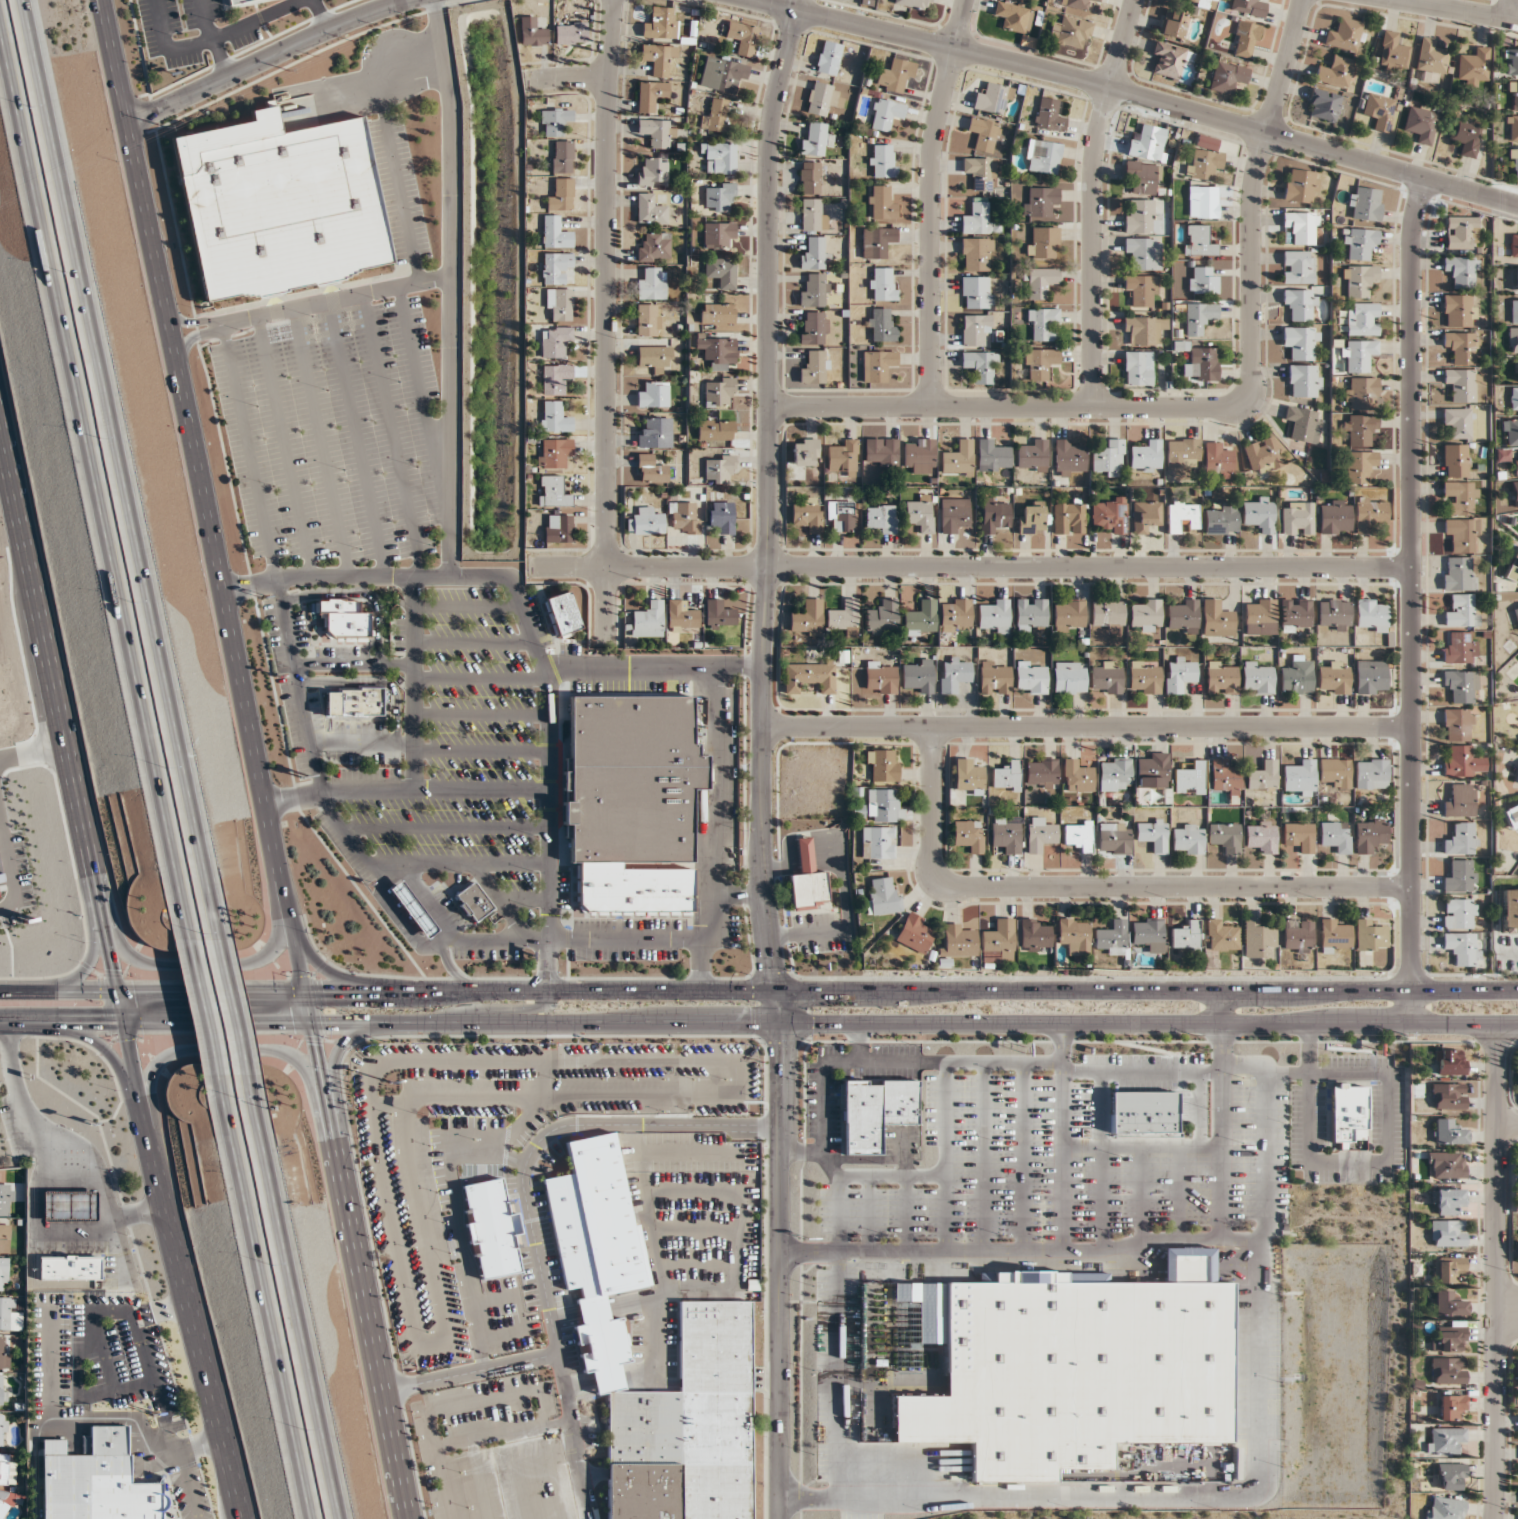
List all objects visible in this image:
building: (1195, 0)
building: (233, 1)
building: (1075, 4)
road: (774, 5)
road: (797, 5)
building: (913, 5)
building: (1249, 7)
road: (1456, 9)
road: (1512, 9)
road: (321, 14)
building: (1014, 16)
building: (661, 24)
building: (1175, 24)
building: (532, 32)
building: (571, 33)
building: (1071, 33)
building: (1346, 35)
building: (742, 37)
road: (211, 38)
road: (209, 39)
building: (1245, 39)
building: (1393, 51)
road: (264, 57)
building: (829, 57)
building: (658, 58)
building: (1169, 60)
building: (1431, 61)
building: (1512, 61)
road: (115, 62)
building: (1474, 66)
building: (1335, 71)
building: (722, 74)
building: (895, 75)
building: (1228, 77)
road: (562, 80)
road: (376, 88)
building: (1513, 95)
building: (652, 96)
building: (822, 98)
building: (993, 98)
road: (1159, 102)
building: (1324, 104)
building: (1380, 110)
building: (886, 114)
building: (1049, 115)
building: (719, 117)
building: (555, 121)
building: (1422, 123)
building: (1512, 128)
building: (657, 132)
building: (983, 133)
building: (1466, 136)
building: (815, 139)
building: (1148, 143)
building: (1043, 156)
building: (562, 157)
building: (720, 157)
building: (881, 160)
building: (1204, 163)
building: (1514, 163)
building: (653, 172)
building: (981, 173)
building: (1144, 176)
building: (809, 178)
road: (398, 184)
building: (1301, 186)
building: (561, 195)
building: (719, 196)
road: (930, 201)
building: (1040, 201)
road: (1092, 201)
building: (1202, 201)
building: (281, 202)
building: (1365, 203)
building: (881, 204)
building: (650, 209)
building: (811, 214)
building: (1140, 216)
building: (979, 219)
building: (1303, 227)
building: (556, 232)
building: (1463, 232)
building: (719, 234)
building: (877, 241)
building: (1197, 241)
building: (1043, 242)
building: (1360, 242)
building: (654, 247)
building: (1514, 247)
building: (1143, 252)
building: (814, 254)
building: (977, 254)
building: (556, 267)
building: (1298, 267)
building: (1463, 270)
building: (721, 272)
building: (1516, 279)
building: (1359, 280)
building: (1201, 281)
building: (1041, 282)
building: (652, 284)
building: (882, 284)
building: (1141, 289)
building: (814, 291)
building: (975, 292)
road: (333, 299)
building: (560, 303)
building: (1301, 303)
building: (1514, 309)
building: (1459, 310)
building: (717, 314)
road: (599, 315)
building: (1200, 317)
building: (648, 319)
building: (1362, 319)
road: (193, 323)
building: (1043, 324)
building: (881, 325)
building: (814, 328)
building: (976, 330)
building: (1143, 330)
road: (195, 335)
building: (1513, 339)
building: (555, 340)
building: (1301, 341)
building: (1461, 346)
building: (717, 351)
building: (1357, 355)
building: (654, 357)
building: (1039, 363)
building: (1203, 364)
building: (877, 365)
building: (980, 366)
building: (813, 367)
building: (1138, 367)
building: (556, 378)
building: (1305, 380)
building: (1461, 384)
building: (718, 390)
building: (1361, 392)
building: (654, 394)
road: (420, 395)
building: (1514, 399)
road: (1212, 407)
building: (555, 417)
building: (1459, 422)
building: (1304, 424)
building: (715, 429)
building: (1360, 429)
building: (1510, 431)
road: (392, 434)
building: (655, 434)
road: (356, 439)
road: (320, 443)
road: (283, 447)
building: (554, 452)
building: (806, 452)
building: (881, 452)
building: (1183, 452)
building: (919, 454)
building: (1263, 454)
building: (1033, 455)
building: (993, 456)
building: (1146, 456)
building: (843, 457)
building: (958, 458)
building: (1069, 458)
building: (1108, 458)
road: (127, 459)
building: (1219, 460)
building: (1455, 460)
building: (1360, 466)
building: (1516, 466)
building: (719, 468)
building: (651, 469)
road: (448, 471)
building: (552, 492)
building: (1515, 493)
road: (88, 494)
building: (1460, 498)
road: (768, 500)
building: (1370, 512)
building: (807, 513)
building: (921, 514)
building: (954, 514)
building: (1110, 514)
building: (1259, 514)
building: (994, 515)
building: (1183, 515)
building: (684, 516)
building: (722, 516)
building: (841, 516)
building: (1146, 516)
building: (1335, 516)
building: (1070, 517)
building: (881, 518)
building: (1031, 518)
building: (1297, 518)
building: (1221, 519)
road: (211, 520)
building: (645, 522)
building: (558, 528)
building: (1463, 534)
road: (969, 567)
building: (1513, 569)
building: (1459, 573)
road: (337, 577)
road: (360, 593)
road: (1411, 600)
road: (467, 607)
building: (1462, 611)
building: (1516, 611)
building: (1069, 613)
building: (562, 614)
building: (955, 614)
building: (1031, 614)
building: (1107, 614)
building: (1295, 614)
building: (1334, 614)
building: (719, 615)
building: (1145, 615)
building: (1183, 615)
building: (1371, 615)
building: (681, 616)
building: (807, 616)
building: (882, 616)
building: (994, 616)
building: (1260, 617)
building: (920, 618)
building: (1217, 618)
building: (343, 620)
building: (648, 620)
road: (473, 640)
building: (1459, 647)
road: (353, 665)
road: (50, 673)
building: (1180, 674)
building: (810, 675)
building: (918, 675)
building: (955, 675)
building: (1297, 675)
building: (881, 677)
building: (995, 677)
building: (1031, 677)
building: (1106, 677)
building: (1144, 677)
building: (1222, 677)
building: (1258, 677)
building: (1333, 677)
building: (1371, 677)
building: (1070, 678)
road: (481, 679)
road: (373, 681)
road: (414, 683)
building: (1461, 685)
road: (297, 689)
building: (355, 702)
road: (481, 713)
building: (1458, 724)
road: (1085, 727)
road: (361, 742)
road: (481, 749)
road: (32, 750)
building: (1464, 762)
building: (883, 764)
building: (1152, 770)
building: (1335, 771)
building: (1041, 773)
building: (1371, 773)
building: (1115, 774)
building: (968, 776)
building: (1007, 776)
building: (1077, 776)
building: (1263, 776)
building: (1225, 777)
building: (1517, 778)
building: (1190, 779)
road: (405, 791)
building: (1459, 801)
building: (631, 802)
building: (883, 806)
building: (1512, 818)
road: (548, 828)
road: (718, 829)
building: (1040, 833)
building: (1153, 833)
building: (1007, 834)
building: (969, 835)
building: (1079, 835)
building: (1370, 835)
building: (1262, 836)
building: (1299, 836)
building: (1336, 836)
building: (1226, 837)
building: (1114, 838)
building: (1188, 839)
building: (1460, 839)
building: (877, 842)
road: (835, 857)
road: (9, 865)
building: (1460, 876)
building: (808, 879)
road: (1096, 886)
road: (741, 894)
building: (883, 895)
road: (523, 898)
road: (501, 901)
road: (428, 902)
building: (473, 902)
road: (390, 905)
building: (413, 909)
building: (1510, 910)
building: (1459, 913)
building: (913, 933)
building: (1148, 934)
road: (807, 935)
building: (1034, 935)
building: (1074, 935)
building: (1186, 935)
building: (1221, 935)
building: (1298, 935)
building: (1335, 935)
building: (1370, 936)
building: (1112, 938)
building: (1257, 939)
road: (559, 940)
building: (998, 940)
building: (958, 941)
building: (1463, 948)
road: (86, 964)
road: (200, 964)
road: (449, 967)
traffic signals: (774, 972)
road: (339, 977)
road: (1155, 977)
road: (543, 990)
road: (60, 991)
traffic signals: (121, 991)
traffic signals: (809, 991)
road: (1147, 991)
road: (215, 993)
traffic signals: (310, 995)
road: (239, 996)
road: (193, 997)
road: (778, 1007)
road: (1220, 1007)
road: (493, 1011)
traffic signals: (315, 1021)
road: (547, 1022)
traffic signals: (749, 1022)
road: (1148, 1022)
road: (157, 1023)
traffic signals: (128, 1024)
road: (762, 1040)
road: (1516, 1041)
road: (856, 1042)
traffic signals: (781, 1049)
road: (231, 1050)
road: (340, 1050)
road: (112, 1057)
road: (703, 1060)
road: (909, 1061)
building: (1451, 1062)
road: (564, 1073)
road: (1389, 1073)
building: (628, 1088)
road: (685, 1092)
road: (1309, 1092)
building: (1447, 1096)
road: (453, 1097)
building: (875, 1112)
building: (1143, 1113)
building: (1348, 1114)
road: (1507, 1125)
road: (374, 1131)
road: (1219, 1131)
building: (1448, 1132)
road: (1062, 1138)
road: (489, 1148)
road: (58, 1150)
road: (802, 1153)
road: (1263, 1156)
road: (943, 1157)
road: (981, 1157)
road: (1024, 1157)
road: (1102, 1157)
building: (1446, 1165)
road: (694, 1191)
road: (905, 1192)
building: (6, 1199)
building: (1450, 1200)
building: (68, 1206)
gas station: (68, 1206)
road: (527, 1206)
road: (868, 1214)
road: (352, 1217)
road: (169, 1220)
road: (423, 1220)
road: (697, 1227)
building: (491, 1228)
building: (1448, 1233)
building: (4, 1236)
road: (464, 1241)
road: (1022, 1253)
road: (700, 1264)
building: (69, 1267)
building: (1450, 1269)
road: (781, 1270)
road: (1495, 1271)
building: (4, 1273)
road: (301, 1296)
road: (256, 1298)
road: (631, 1302)
road: (655, 1303)
building: (1448, 1304)
building: (924, 1307)
road: (592, 1309)
building: (10, 1315)
road: (564, 1315)
building: (714, 1325)
road: (837, 1336)
building: (1450, 1339)
road: (480, 1353)
road: (149, 1363)
building: (1075, 1368)
building: (1448, 1370)
building: (1517, 1370)
road: (471, 1372)
road: (607, 1380)
road: (659, 1380)
road: (713, 1382)
road: (764, 1382)
road: (578, 1384)
building: (3, 1392)
road: (482, 1400)
road: (540, 1407)
building: (1452, 1407)
building: (3, 1430)
road: (502, 1433)
building: (1445, 1440)
road: (200, 1448)
road: (510, 1458)
road: (439, 1465)
building: (7, 1469)
road: (548, 1472)
building: (1451, 1476)
road: (480, 1479)
road: (190, 1486)
building: (95, 1487)
road: (1141, 1496)
building: (1444, 1508)
building: (3, 1509)

